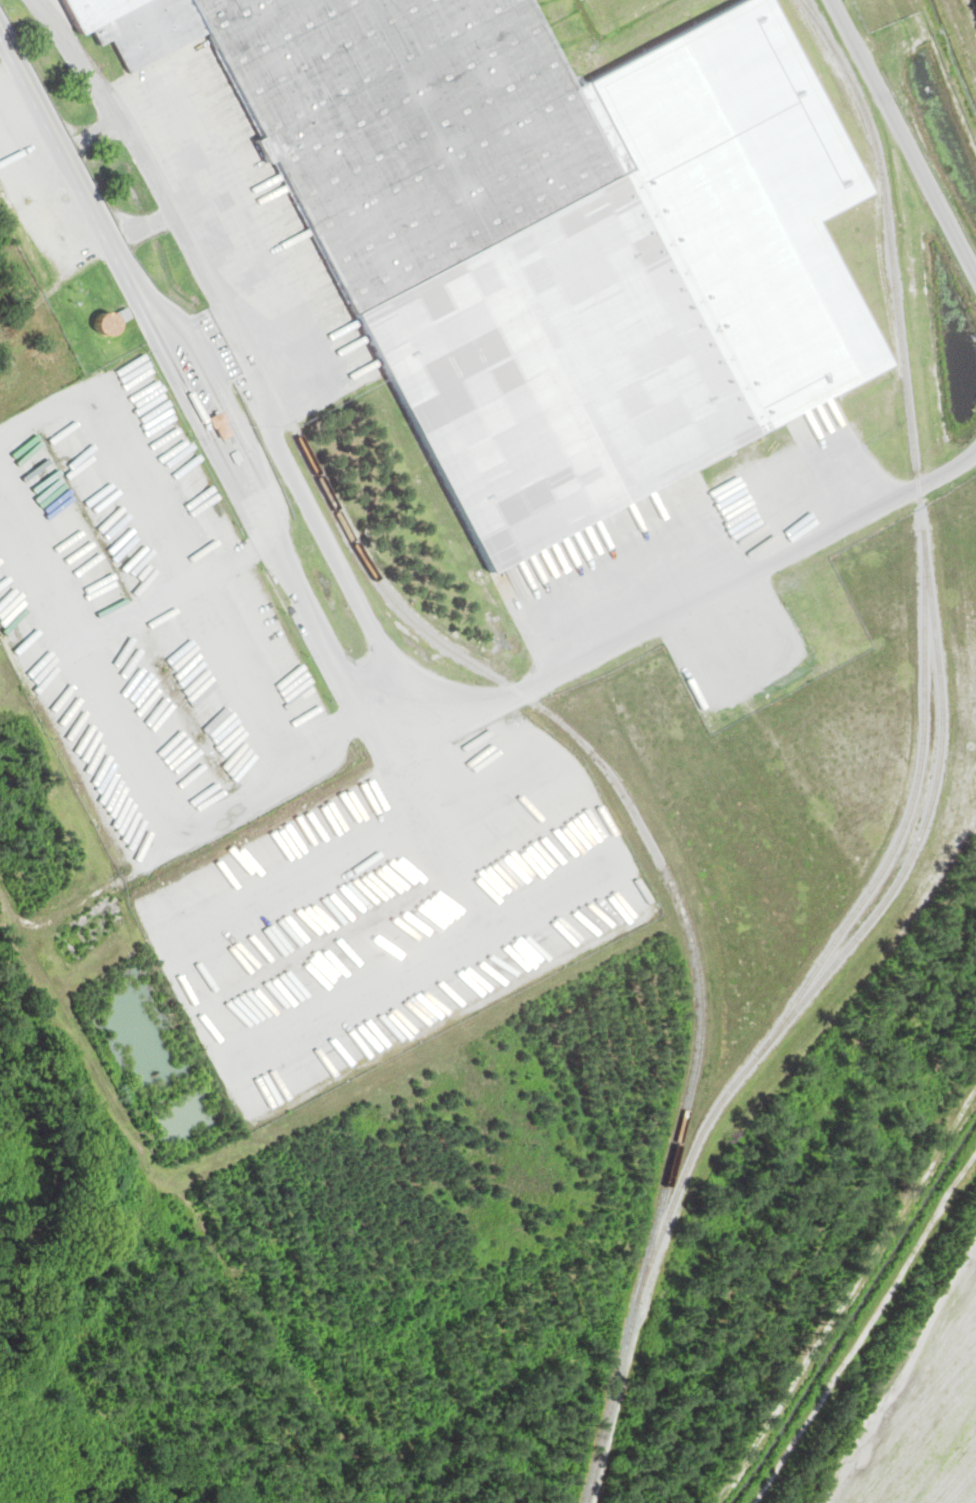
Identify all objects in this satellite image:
railway: (814, 19)
road: (906, 137)
road: (61, 148)
building: (432, 251)
building: (228, 427)
railway: (937, 658)
railway: (540, 706)
building: (636, 900)
building: (615, 910)
building: (593, 923)
building: (543, 949)
building: (479, 983)
building: (448, 1001)
road: (900, 1380)

